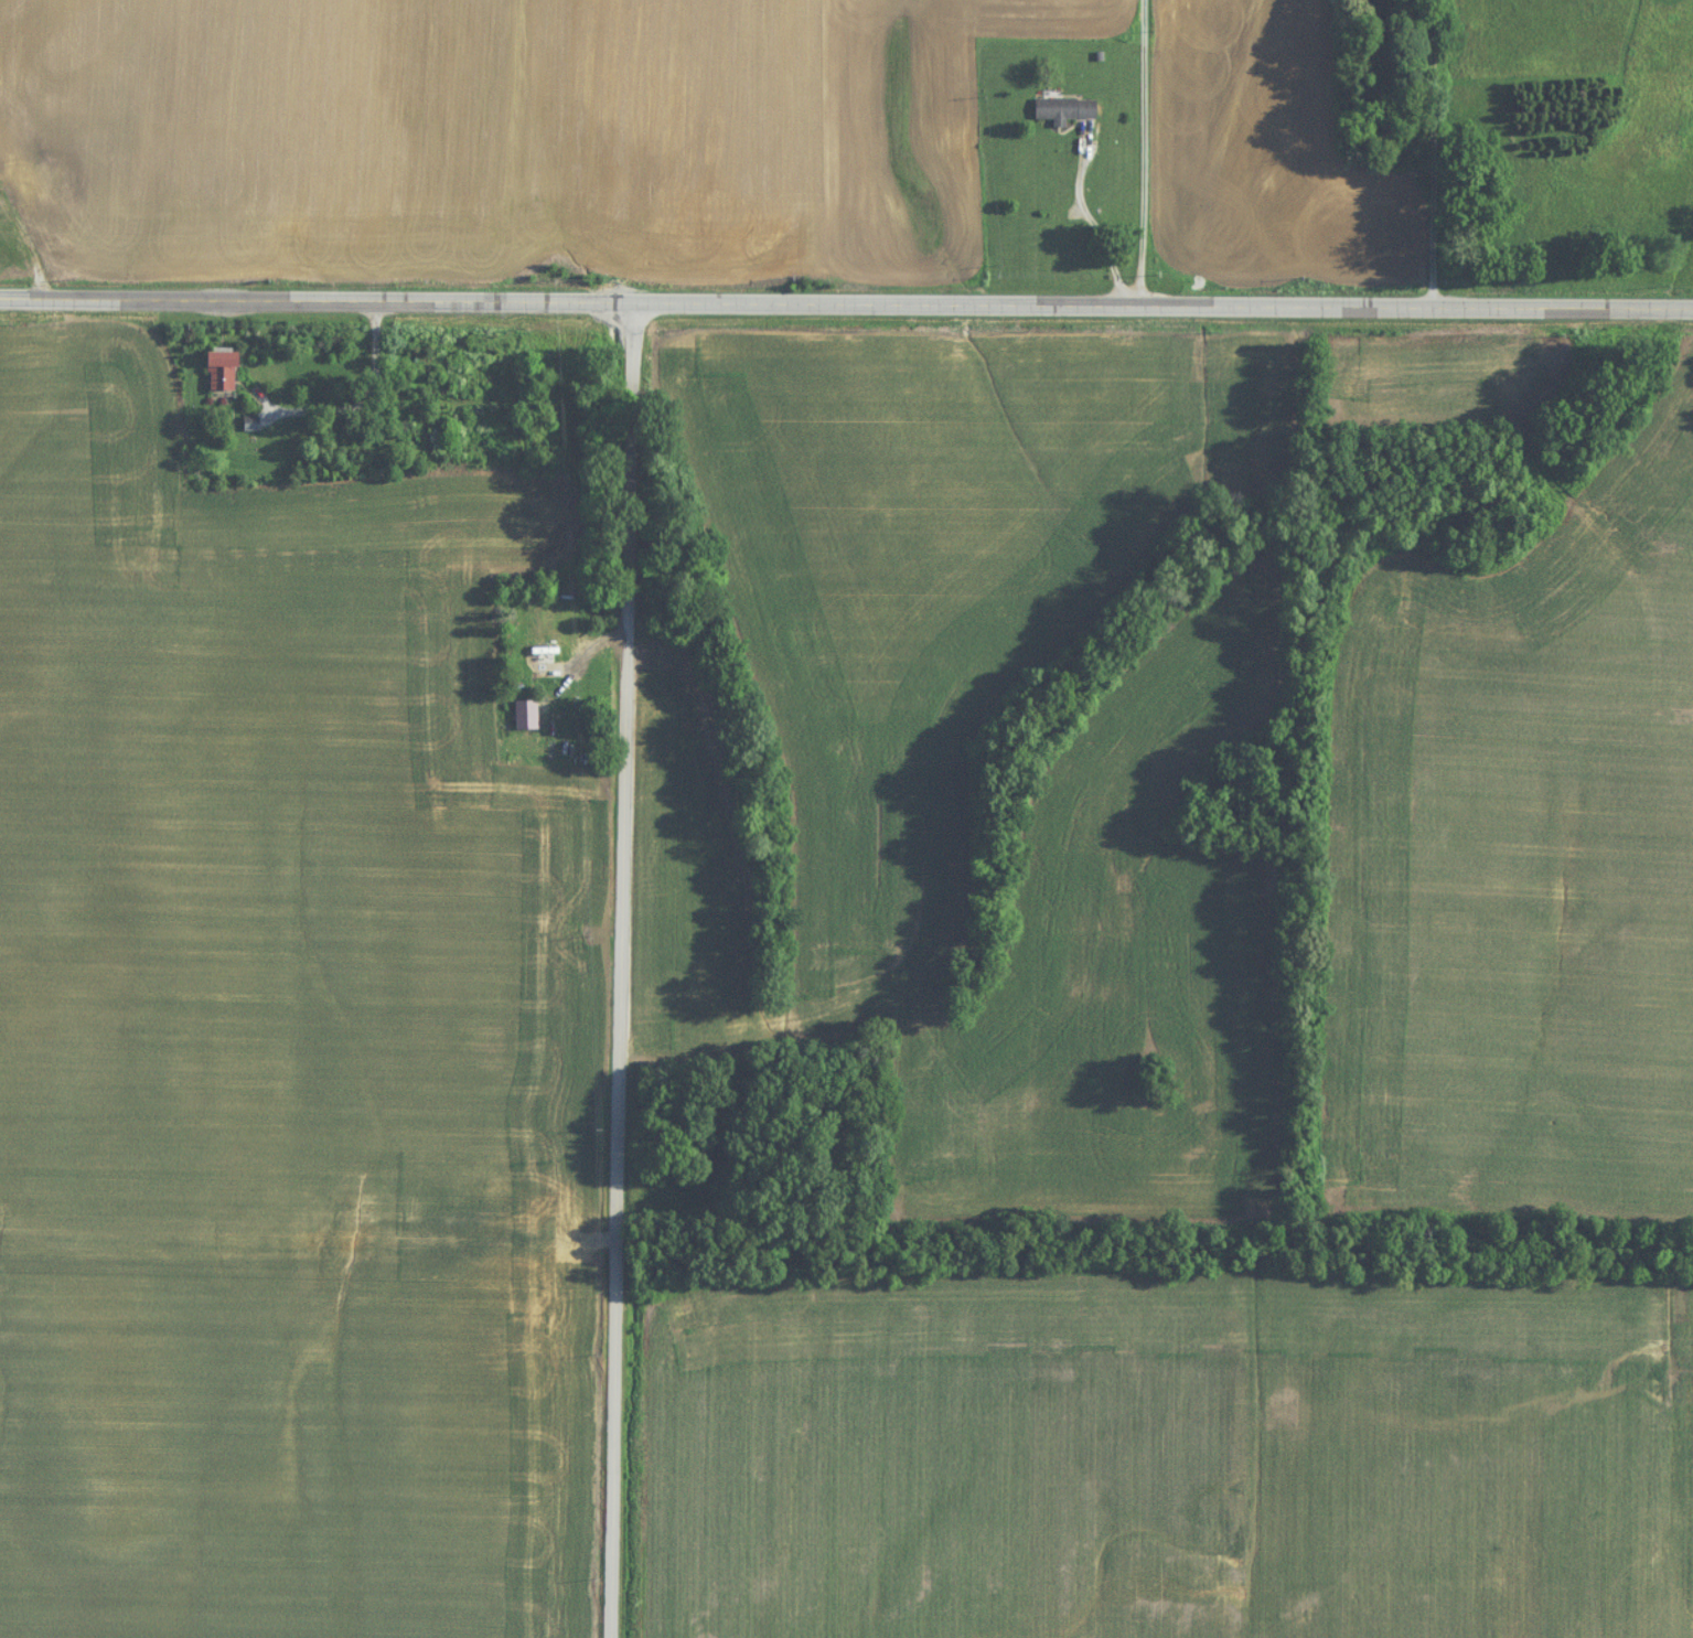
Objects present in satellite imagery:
building: (1065, 111)
road: (1140, 153)
road: (1429, 154)
road: (1086, 218)
road: (846, 306)
building: (223, 374)
building: (547, 636)
road: (618, 971)

